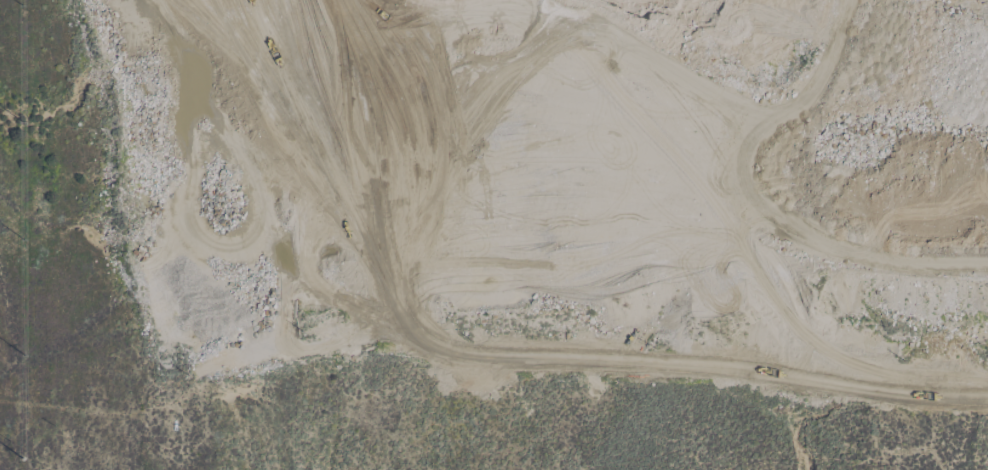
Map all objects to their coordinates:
road: (385, 6)
quarry: (557, 183)

